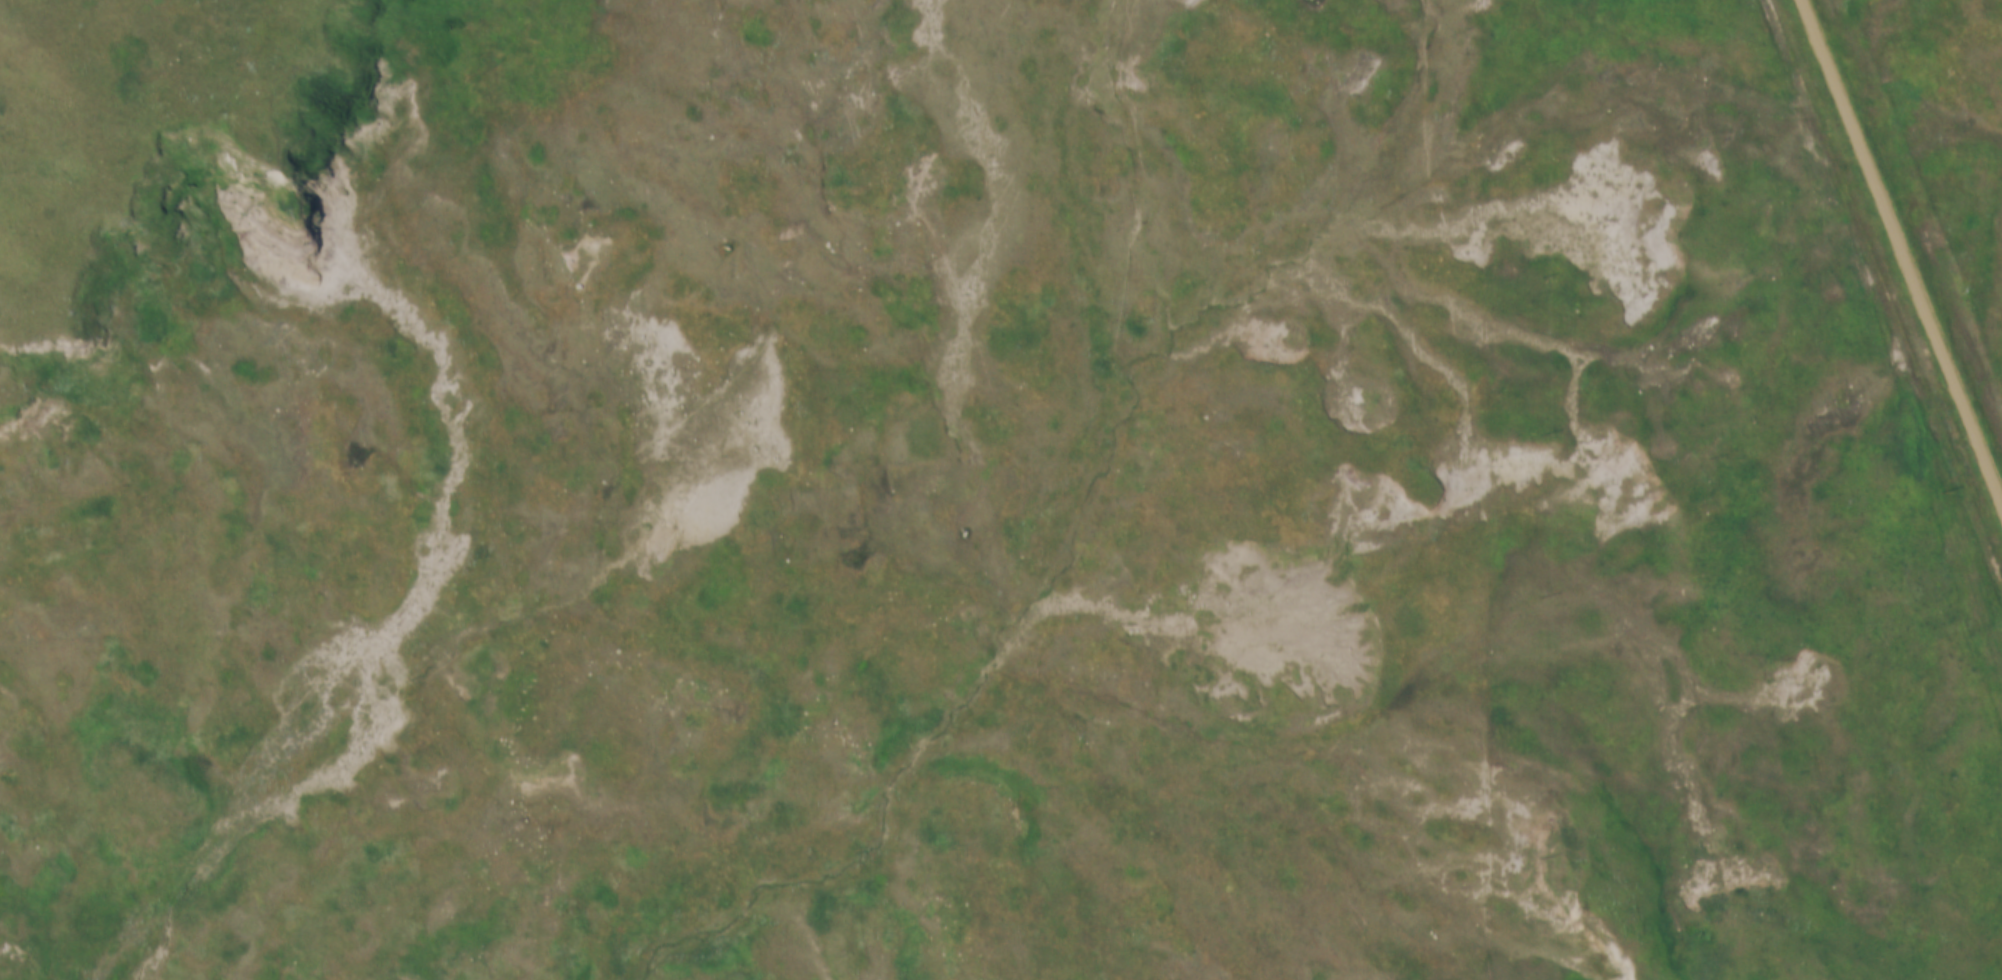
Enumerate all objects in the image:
road: (1901, 248)

